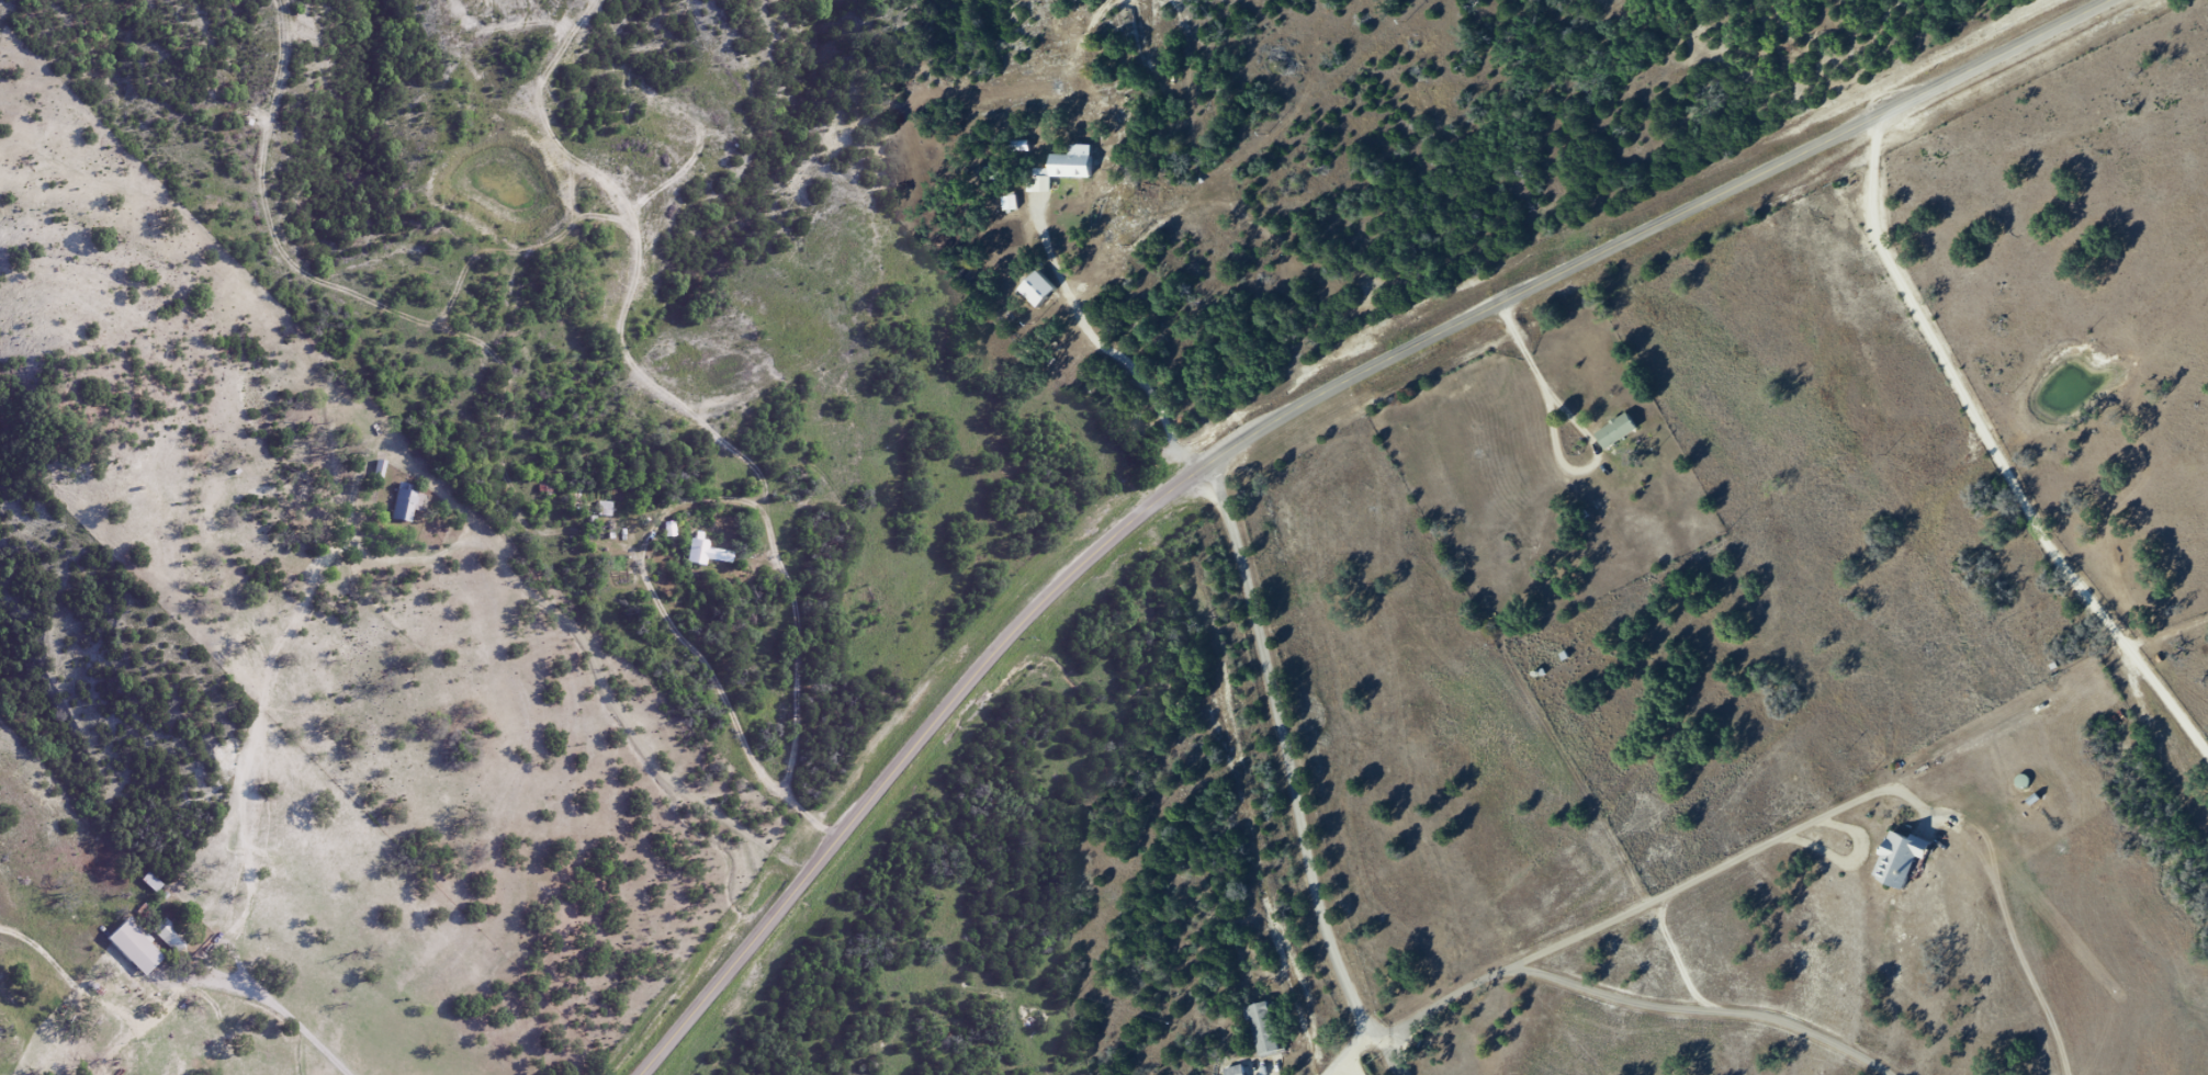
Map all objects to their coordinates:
building: (1069, 165)
road: (1289, 415)
building: (1623, 437)
road: (1561, 439)
building: (405, 502)
building: (602, 509)
building: (706, 553)
road: (1293, 779)
building: (1899, 859)
building: (150, 882)
building: (169, 936)
building: (132, 948)
road: (227, 984)
building: (1272, 1037)
building: (1233, 1071)
building: (1243, 1072)

